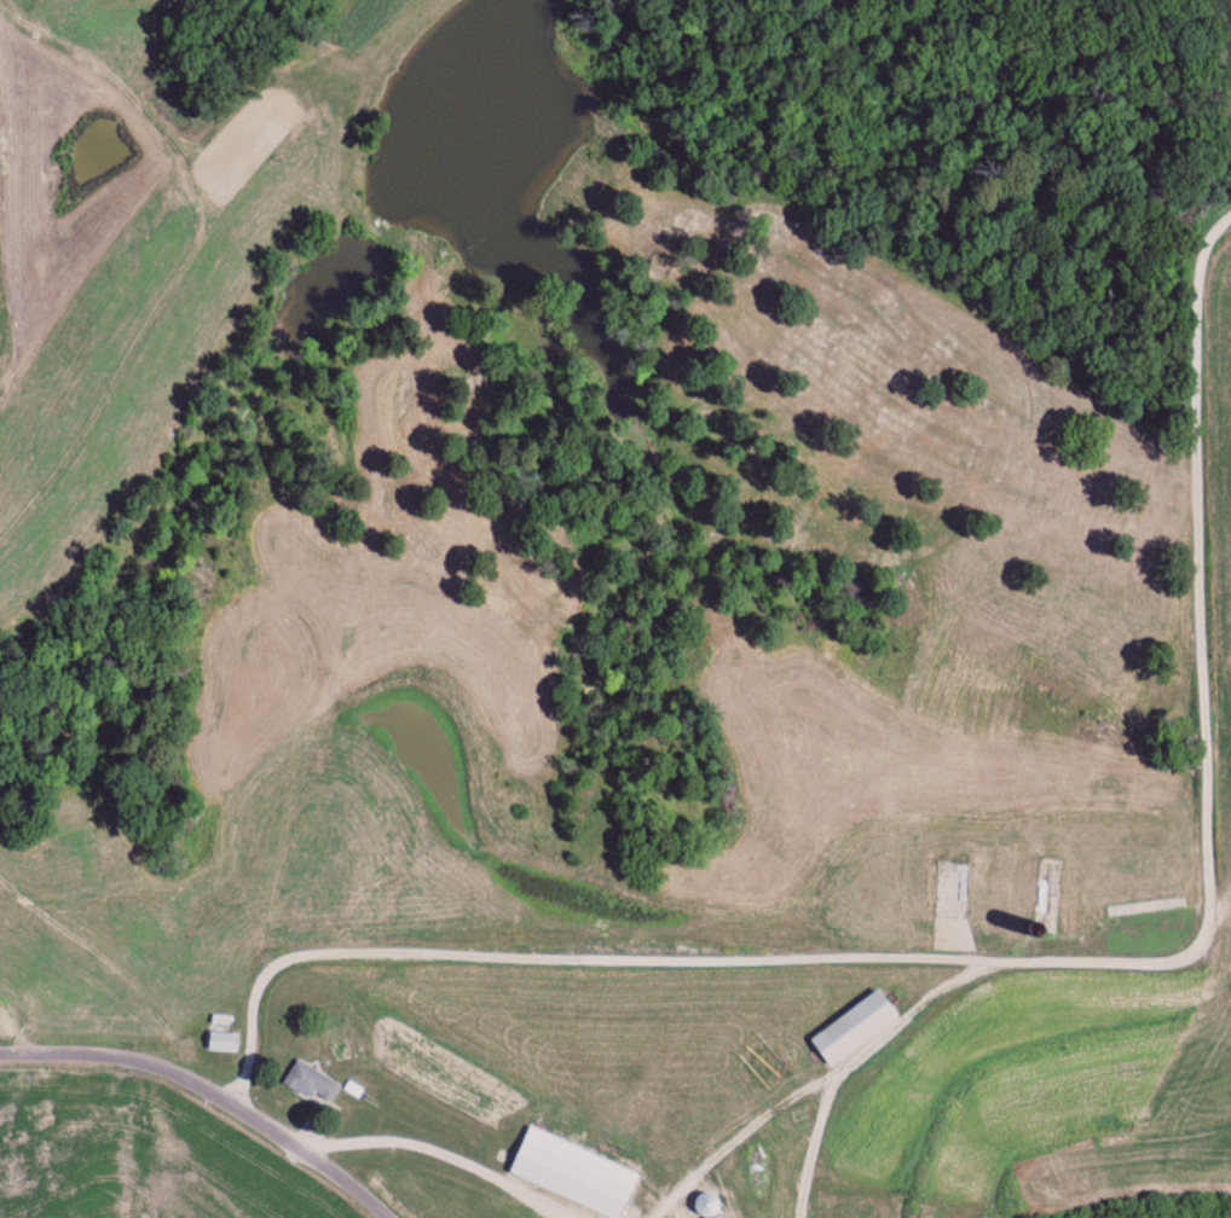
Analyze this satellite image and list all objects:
road: (1038, 959)
building: (850, 1029)
building: (221, 1044)
road: (204, 1081)
road: (809, 1083)
building: (311, 1084)
road: (811, 1138)
road: (437, 1147)
building: (571, 1174)
building: (705, 1205)
road: (660, 1213)
building: (718, 1217)

